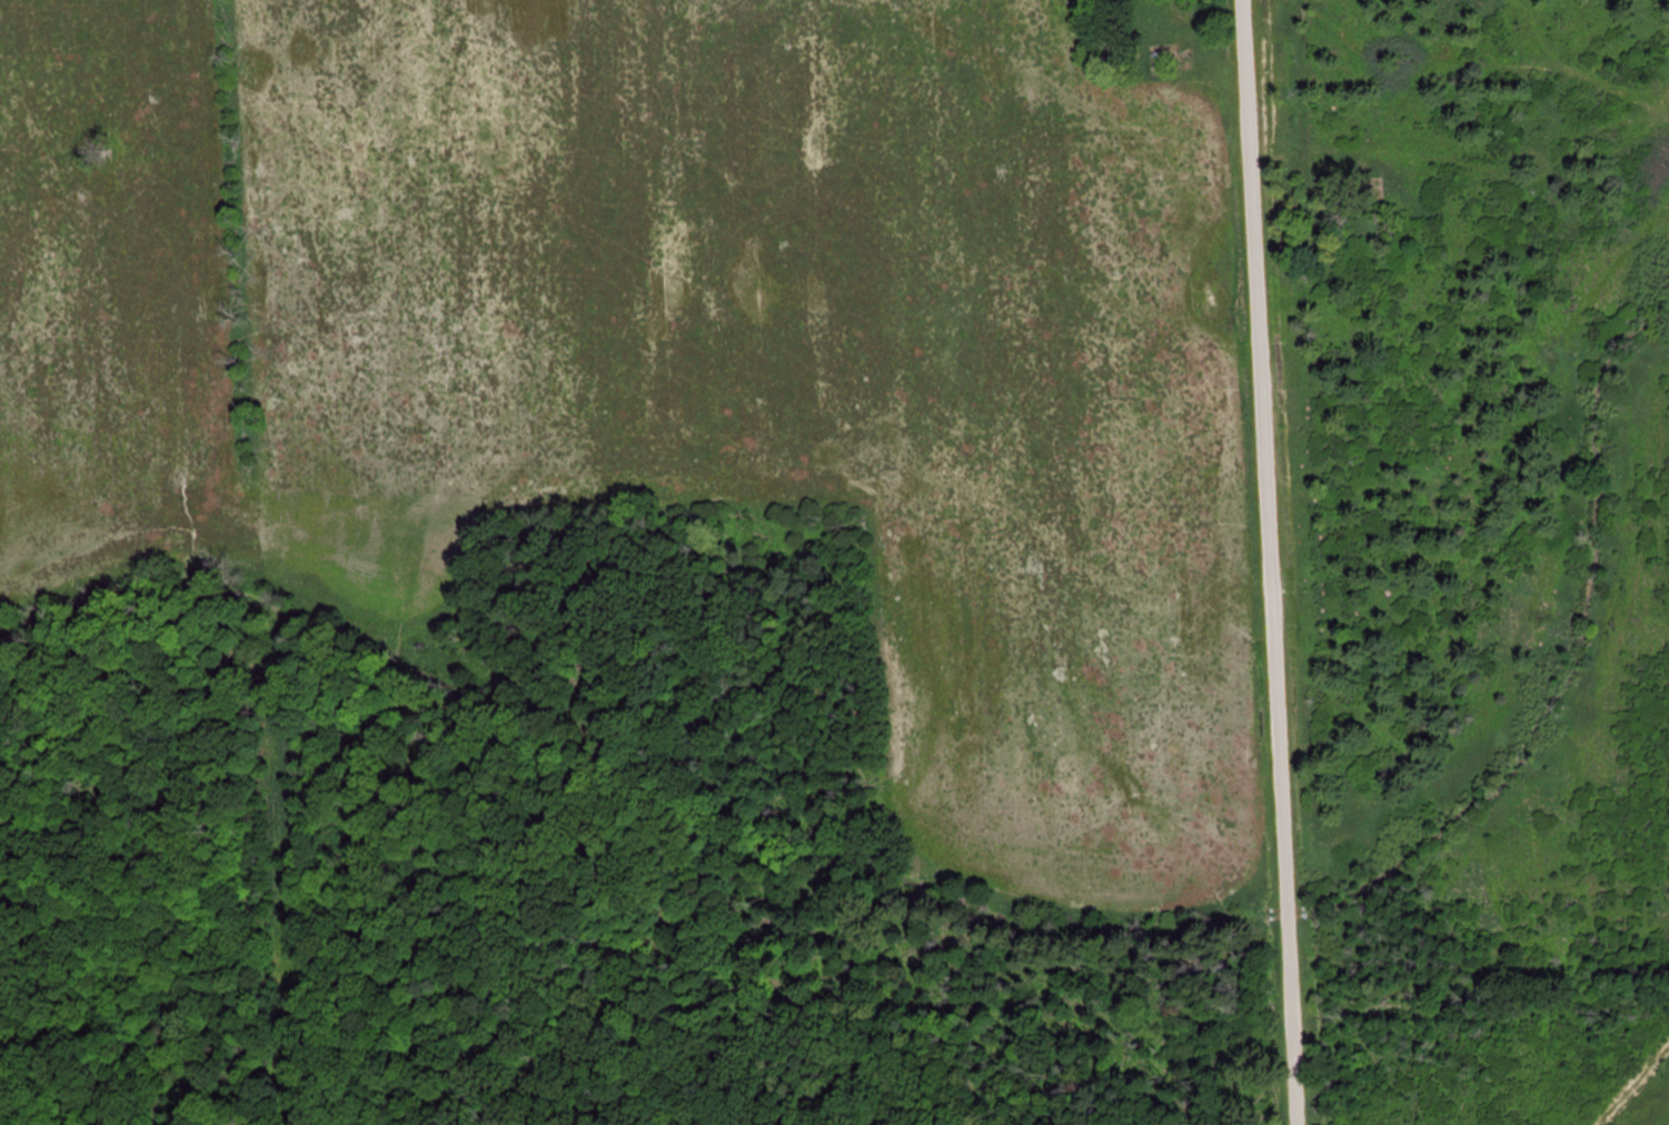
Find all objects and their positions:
road: (1270, 561)

